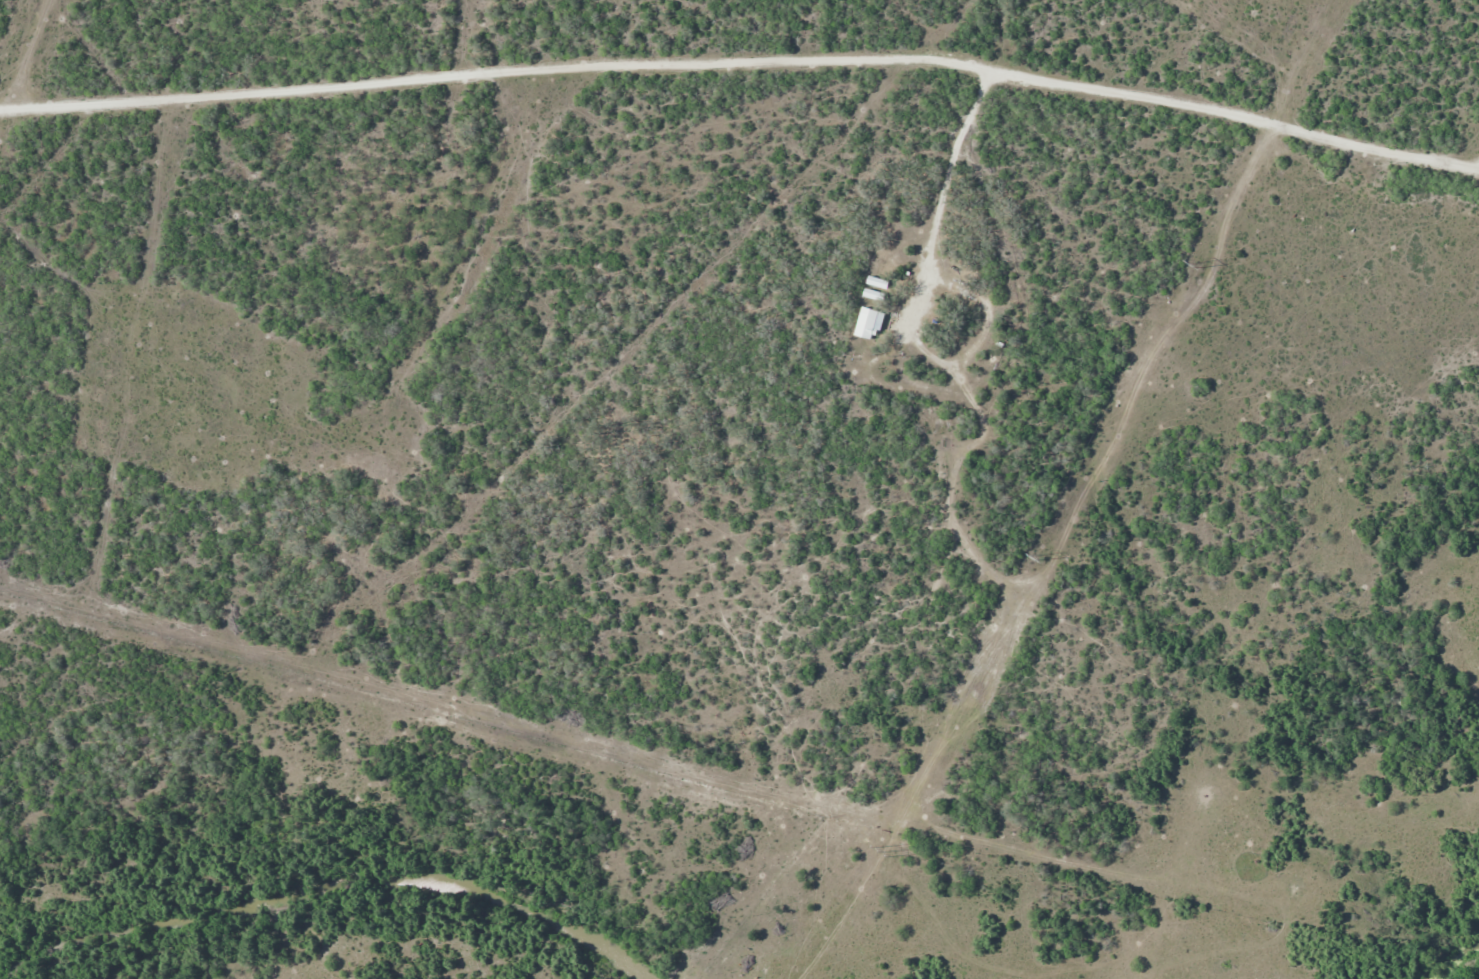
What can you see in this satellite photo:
road: (52, 61)
road: (743, 89)
power tower: (1199, 265)
building: (866, 323)
power tower: (1042, 557)
power tower: (890, 851)

